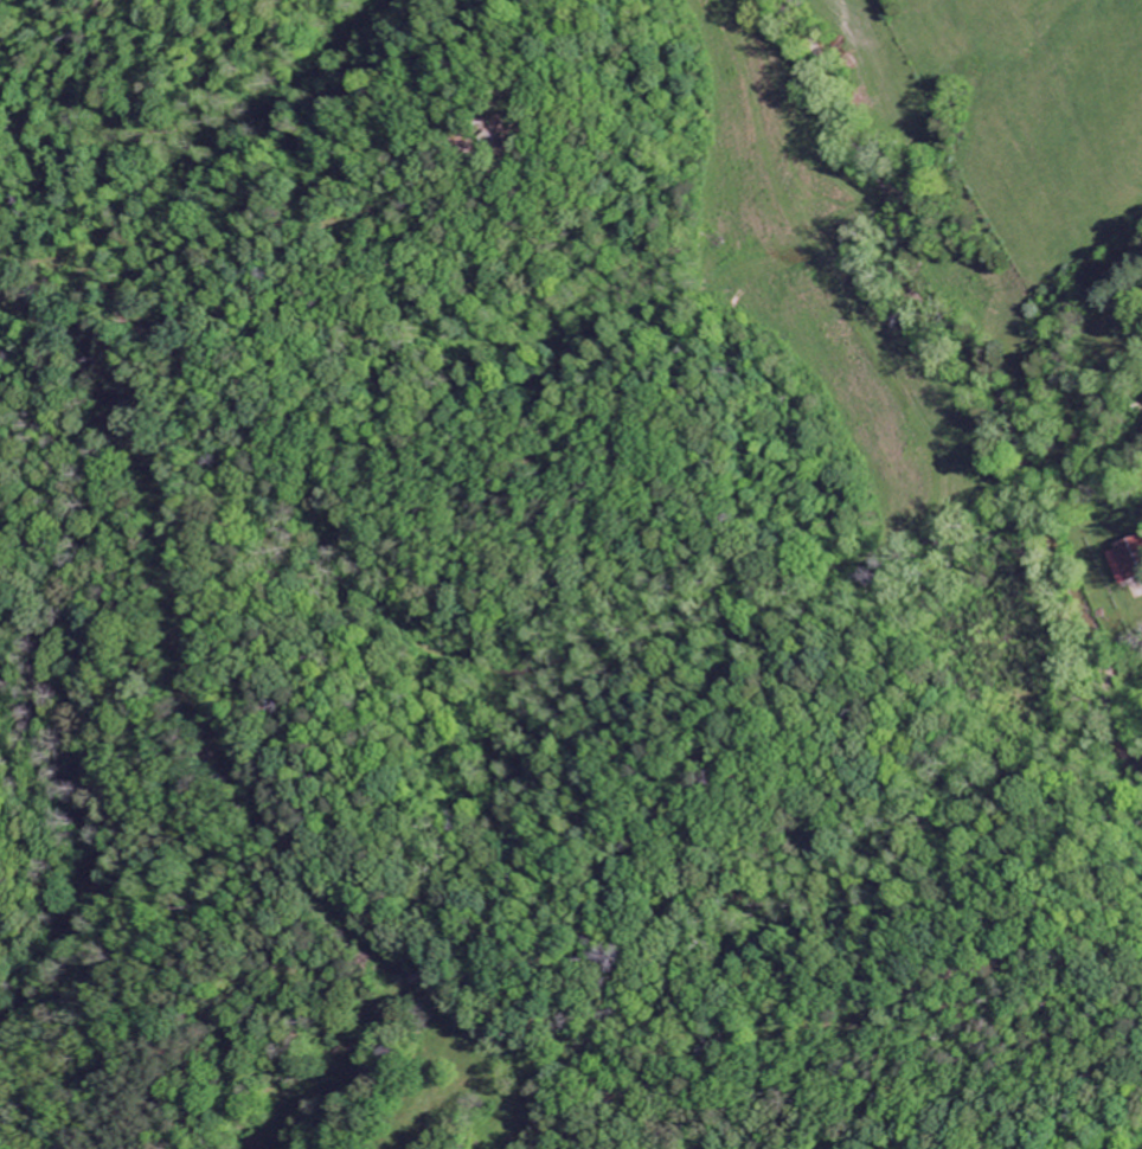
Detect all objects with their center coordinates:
building: (1122, 569)

